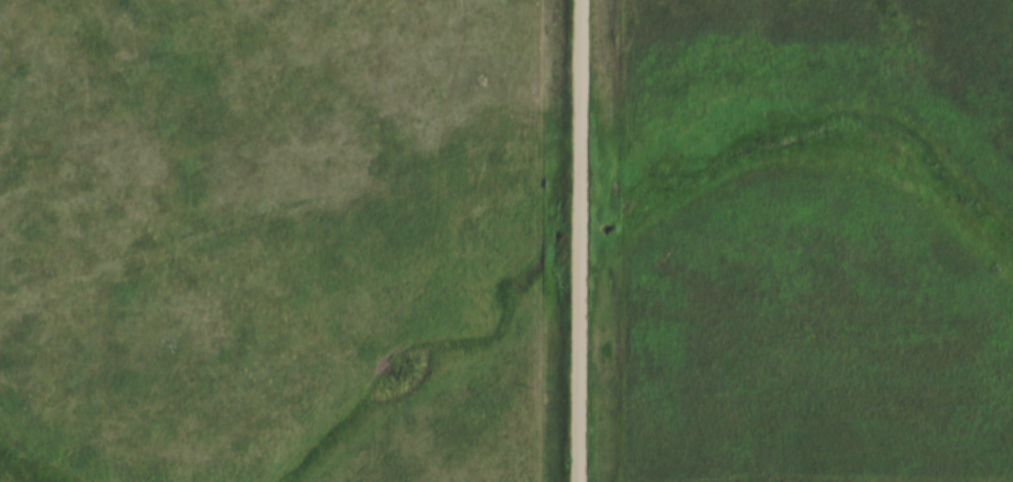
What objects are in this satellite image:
road: (577, 240)

